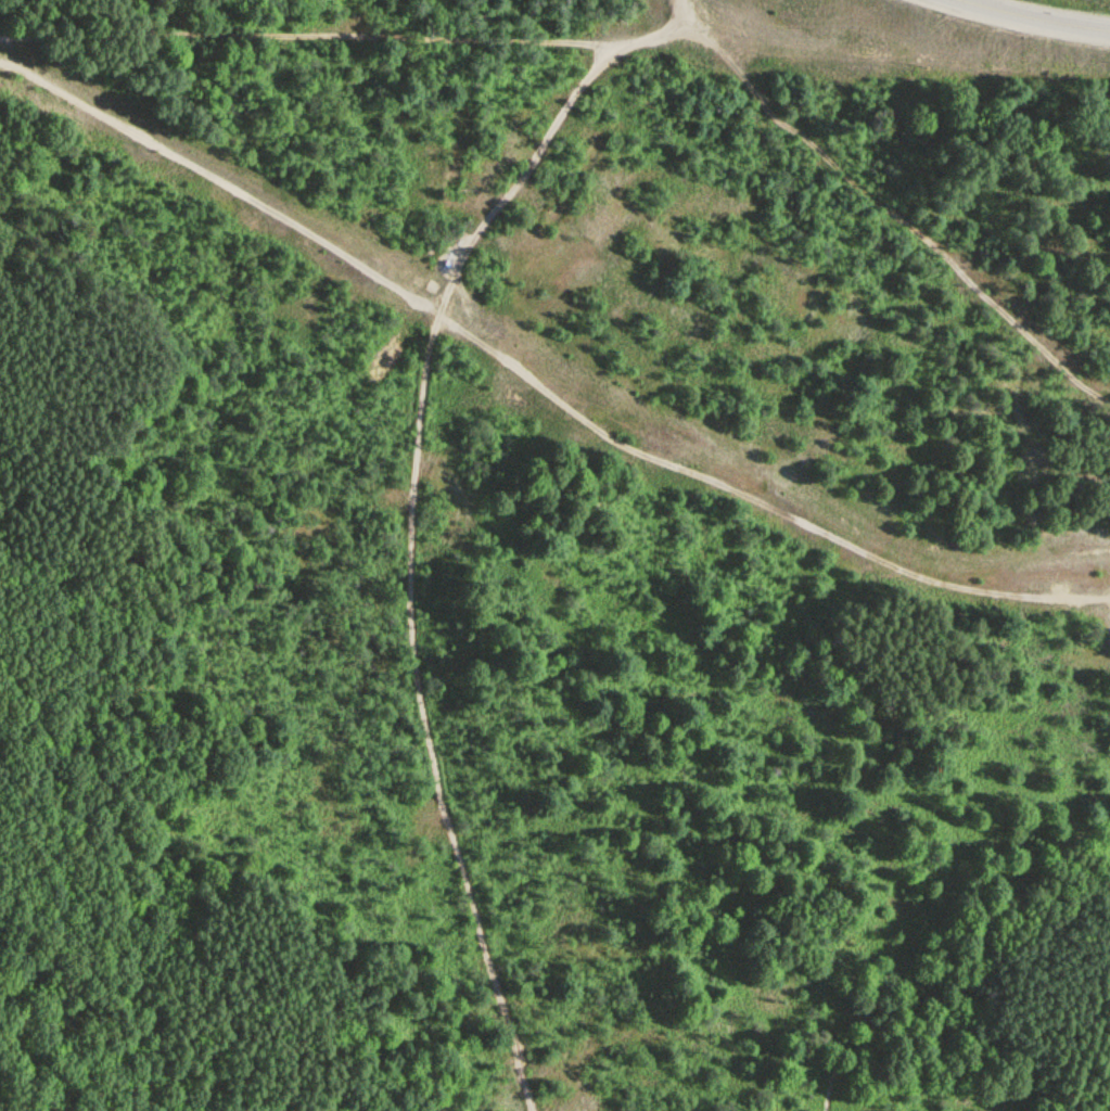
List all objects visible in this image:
road: (1032, 17)
road: (303, 48)
road: (893, 215)
road: (535, 385)
road: (414, 509)
road: (656, 617)
road: (941, 1031)

